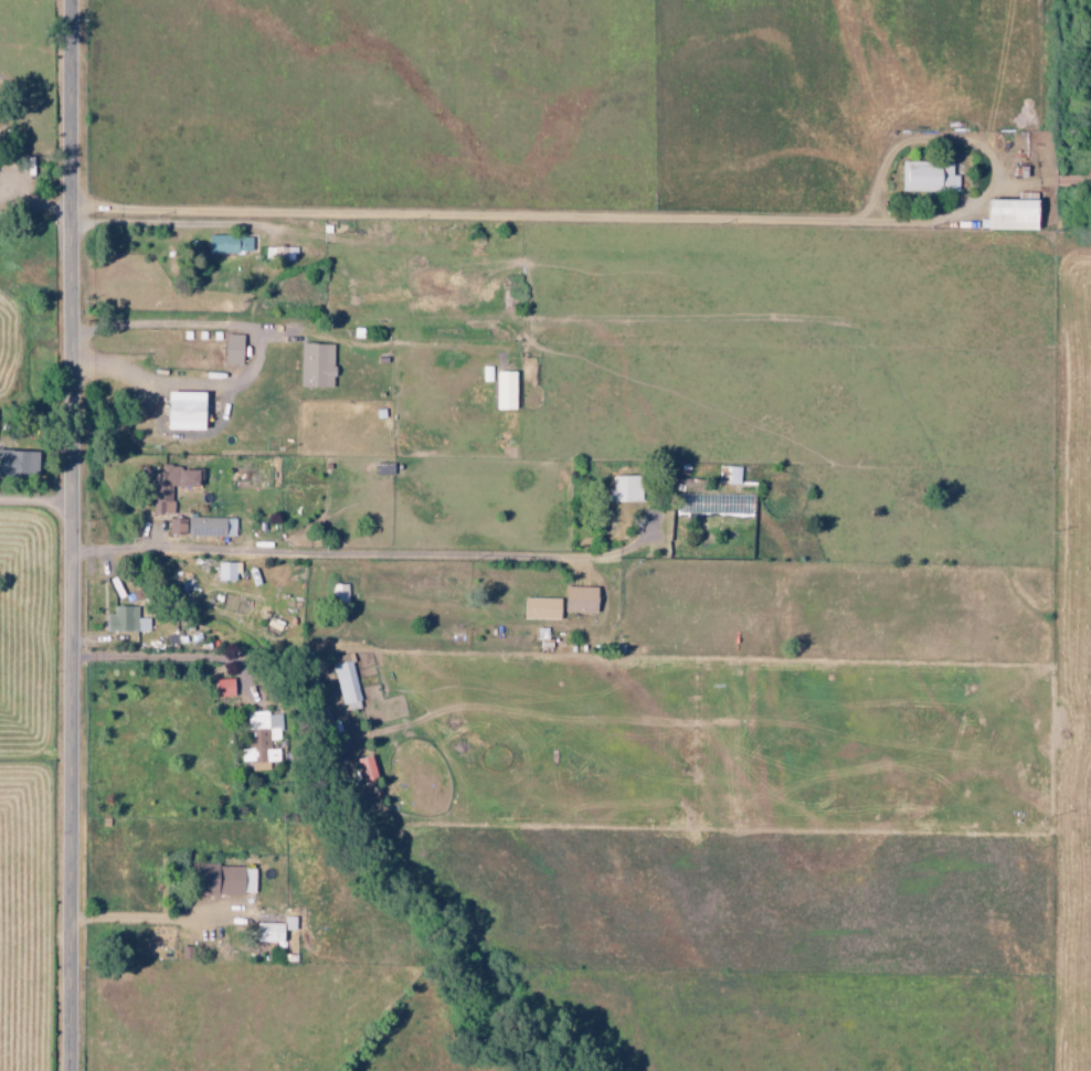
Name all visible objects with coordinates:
building: (924, 178)
building: (1002, 214)
road: (507, 215)
building: (231, 244)
building: (235, 349)
building: (318, 364)
building: (507, 390)
building: (189, 410)
building: (20, 462)
building: (730, 475)
building: (174, 485)
building: (627, 488)
building: (179, 527)
building: (213, 527)
road: (77, 535)
road: (364, 555)
building: (229, 571)
building: (583, 598)
building: (544, 608)
building: (127, 619)
building: (347, 682)
building: (225, 688)
building: (263, 741)
building: (229, 880)
building: (276, 930)

